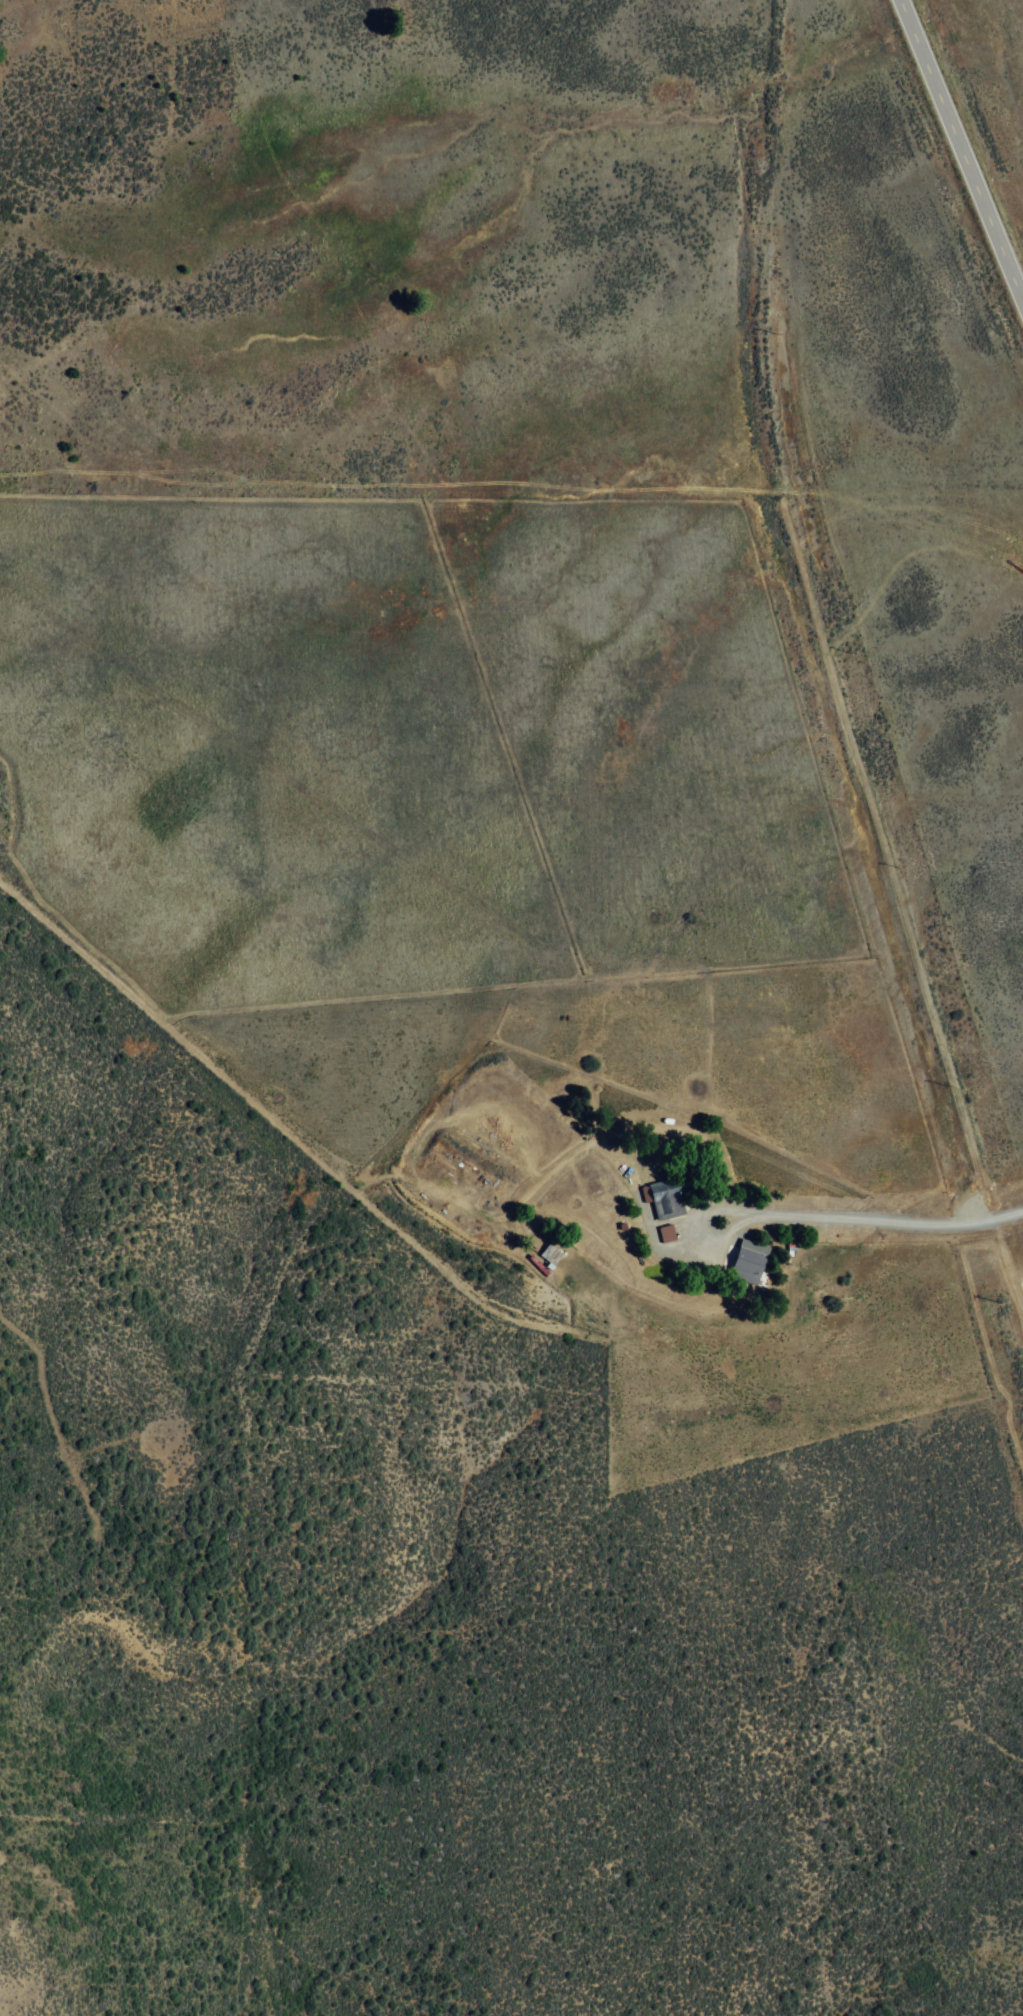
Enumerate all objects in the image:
road: (954, 168)
crop: (504, 1021)
building: (661, 1197)
building: (664, 1232)
building: (549, 1254)
building: (746, 1261)

